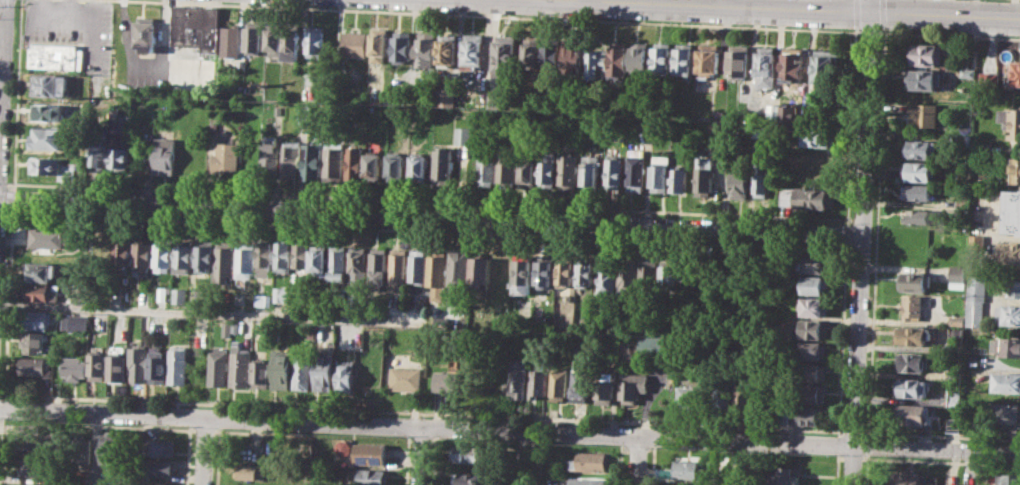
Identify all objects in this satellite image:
road: (712, 3)
road: (869, 7)
road: (805, 10)
road: (855, 13)
road: (882, 13)
road: (497, 15)
parking lot: (56, 22)
building: (195, 26)
road: (871, 31)
building: (101, 32)
building: (146, 33)
road: (951, 34)
building: (253, 36)
building: (272, 39)
building: (229, 40)
building: (291, 40)
building: (313, 40)
building: (353, 44)
building: (378, 44)
building: (402, 45)
building: (425, 49)
building: (448, 50)
building: (474, 51)
building: (532, 53)
building: (925, 53)
building: (553, 54)
building: (506, 55)
building: (56, 56)
building: (575, 56)
building: (641, 57)
building: (663, 58)
building: (685, 58)
building: (710, 59)
road: (2, 60)
building: (620, 60)
building: (741, 62)
building: (598, 64)
building: (794, 65)
building: (824, 65)
building: (767, 66)
building: (90, 67)
building: (969, 72)
building: (1017, 72)
building: (924, 78)
road: (3, 79)
building: (991, 80)
building: (51, 85)
building: (385, 97)
building: (446, 97)
building: (498, 100)
building: (276, 109)
building: (773, 112)
building: (51, 113)
building: (789, 113)
building: (925, 115)
building: (1012, 121)
building: (213, 126)
road: (850, 126)
building: (463, 135)
building: (819, 137)
building: (50, 139)
building: (985, 148)
building: (119, 149)
building: (921, 149)
building: (269, 154)
building: (163, 155)
building: (98, 157)
building: (225, 157)
building: (290, 159)
building: (312, 160)
building: (333, 161)
building: (355, 163)
building: (442, 164)
building: (507, 165)
building: (50, 166)
building: (374, 166)
building: (396, 166)
building: (418, 167)
building: (815, 167)
building: (528, 168)
building: (486, 169)
building: (548, 169)
building: (637, 169)
building: (1015, 170)
building: (568, 171)
building: (592, 172)
building: (923, 172)
building: (615, 173)
building: (661, 173)
building: (985, 174)
building: (704, 175)
building: (679, 178)
building: (761, 180)
road: (2, 183)
building: (739, 183)
building: (918, 192)
building: (814, 198)
road: (425, 201)
road: (2, 211)
building: (1013, 212)
road: (431, 213)
building: (918, 216)
building: (815, 231)
road: (875, 232)
road: (518, 234)
road: (846, 234)
building: (47, 237)
road: (846, 246)
road: (862, 249)
building: (104, 252)
building: (123, 252)
building: (1007, 252)
building: (144, 253)
building: (165, 254)
building: (301, 255)
building: (185, 256)
building: (264, 257)
building: (283, 257)
building: (205, 258)
building: (245, 259)
building: (319, 259)
building: (225, 261)
building: (338, 263)
building: (814, 263)
building: (378, 265)
building: (419, 266)
building: (357, 267)
building: (502, 267)
building: (460, 268)
building: (398, 269)
building: (481, 269)
building: (41, 271)
building: (547, 271)
building: (439, 272)
building: (566, 272)
building: (586, 272)
building: (524, 274)
building: (628, 274)
building: (608, 276)
building: (649, 276)
building: (668, 276)
building: (958, 277)
building: (914, 281)
building: (815, 284)
building: (978, 287)
building: (1013, 287)
building: (41, 291)
building: (75, 291)
building: (180, 295)
building: (282, 295)
building: (239, 297)
building: (262, 300)
building: (422, 304)
building: (814, 306)
building: (913, 307)
road: (230, 313)
building: (1008, 313)
building: (977, 314)
building: (39, 319)
building: (957, 320)
building: (80, 322)
building: (226, 328)
building: (236, 328)
building: (815, 329)
building: (914, 334)
building: (958, 334)
building: (248, 337)
building: (34, 341)
building: (652, 346)
building: (1009, 346)
building: (814, 350)
building: (140, 361)
building: (914, 361)
building: (179, 364)
building: (36, 365)
building: (159, 365)
building: (241, 365)
building: (99, 366)
building: (219, 366)
building: (118, 367)
building: (76, 368)
building: (281, 369)
building: (303, 371)
building: (325, 371)
building: (813, 372)
building: (261, 373)
building: (346, 375)
building: (519, 377)
building: (405, 378)
building: (449, 380)
building: (539, 382)
building: (560, 382)
building: (1006, 382)
building: (581, 383)
building: (605, 386)
building: (633, 386)
building: (913, 388)
building: (812, 393)
building: (722, 397)
building: (743, 397)
building: (692, 398)
building: (955, 399)
road: (217, 406)
road: (421, 413)
building: (1004, 413)
building: (786, 414)
building: (812, 414)
building: (915, 414)
road: (217, 417)
building: (953, 425)
road: (135, 427)
road: (509, 429)
road: (203, 430)
road: (853, 431)
road: (258, 432)
road: (941, 436)
road: (420, 439)
building: (37, 441)
road: (1, 443)
road: (837, 444)
road: (867, 444)
road: (96, 447)
building: (160, 447)
building: (82, 448)
road: (637, 448)
road: (205, 450)
building: (369, 452)
building: (112, 453)
building: (470, 453)
road: (217, 455)
road: (420, 455)
road: (187, 457)
road: (840, 457)
road: (852, 457)
road: (635, 459)
road: (406, 460)
road: (433, 460)
building: (587, 461)
road: (940, 461)
road: (619, 462)
road: (743, 462)
building: (36, 466)
road: (646, 466)
building: (156, 467)
road: (836, 468)
road: (866, 468)
building: (251, 471)
building: (690, 471)
building: (786, 474)
building: (81, 477)
building: (371, 477)
building: (469, 478)
building: (908, 478)
building: (1009, 479)
building: (588, 480)
building: (158, 483)
building: (952, 483)
building: (961, 484)
building: (967, 484)

